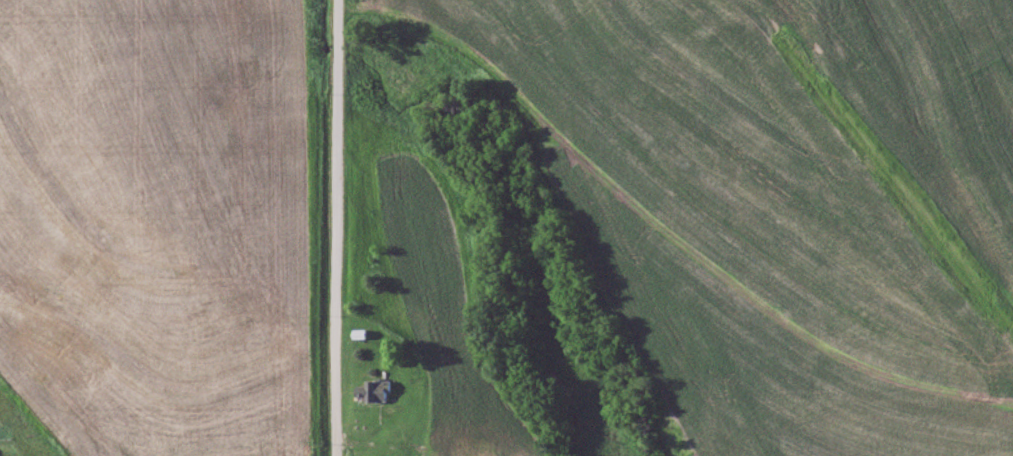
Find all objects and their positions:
road: (338, 227)
building: (379, 388)

